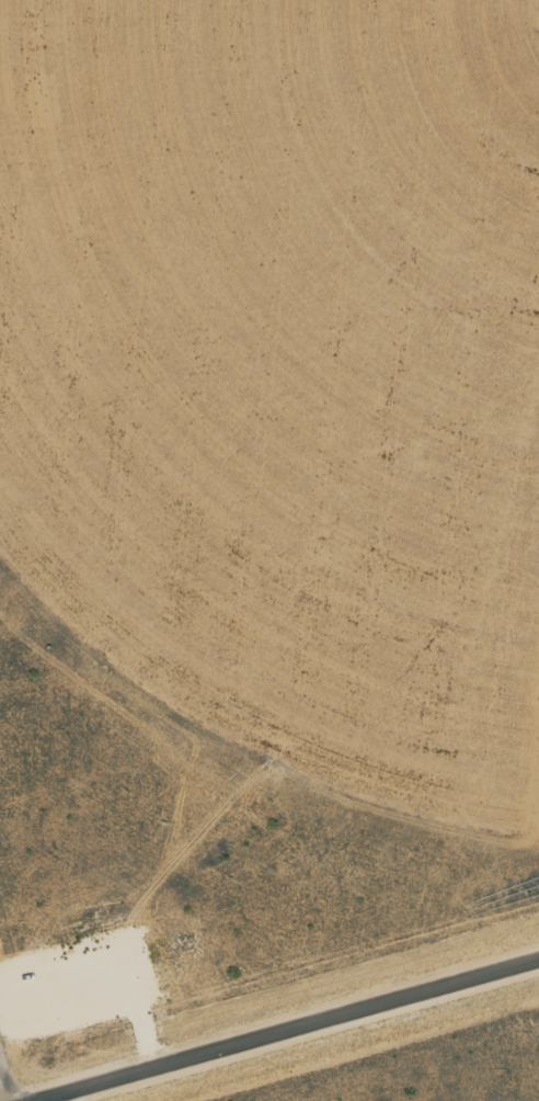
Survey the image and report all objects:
road: (300, 1033)
road: (5, 1078)

